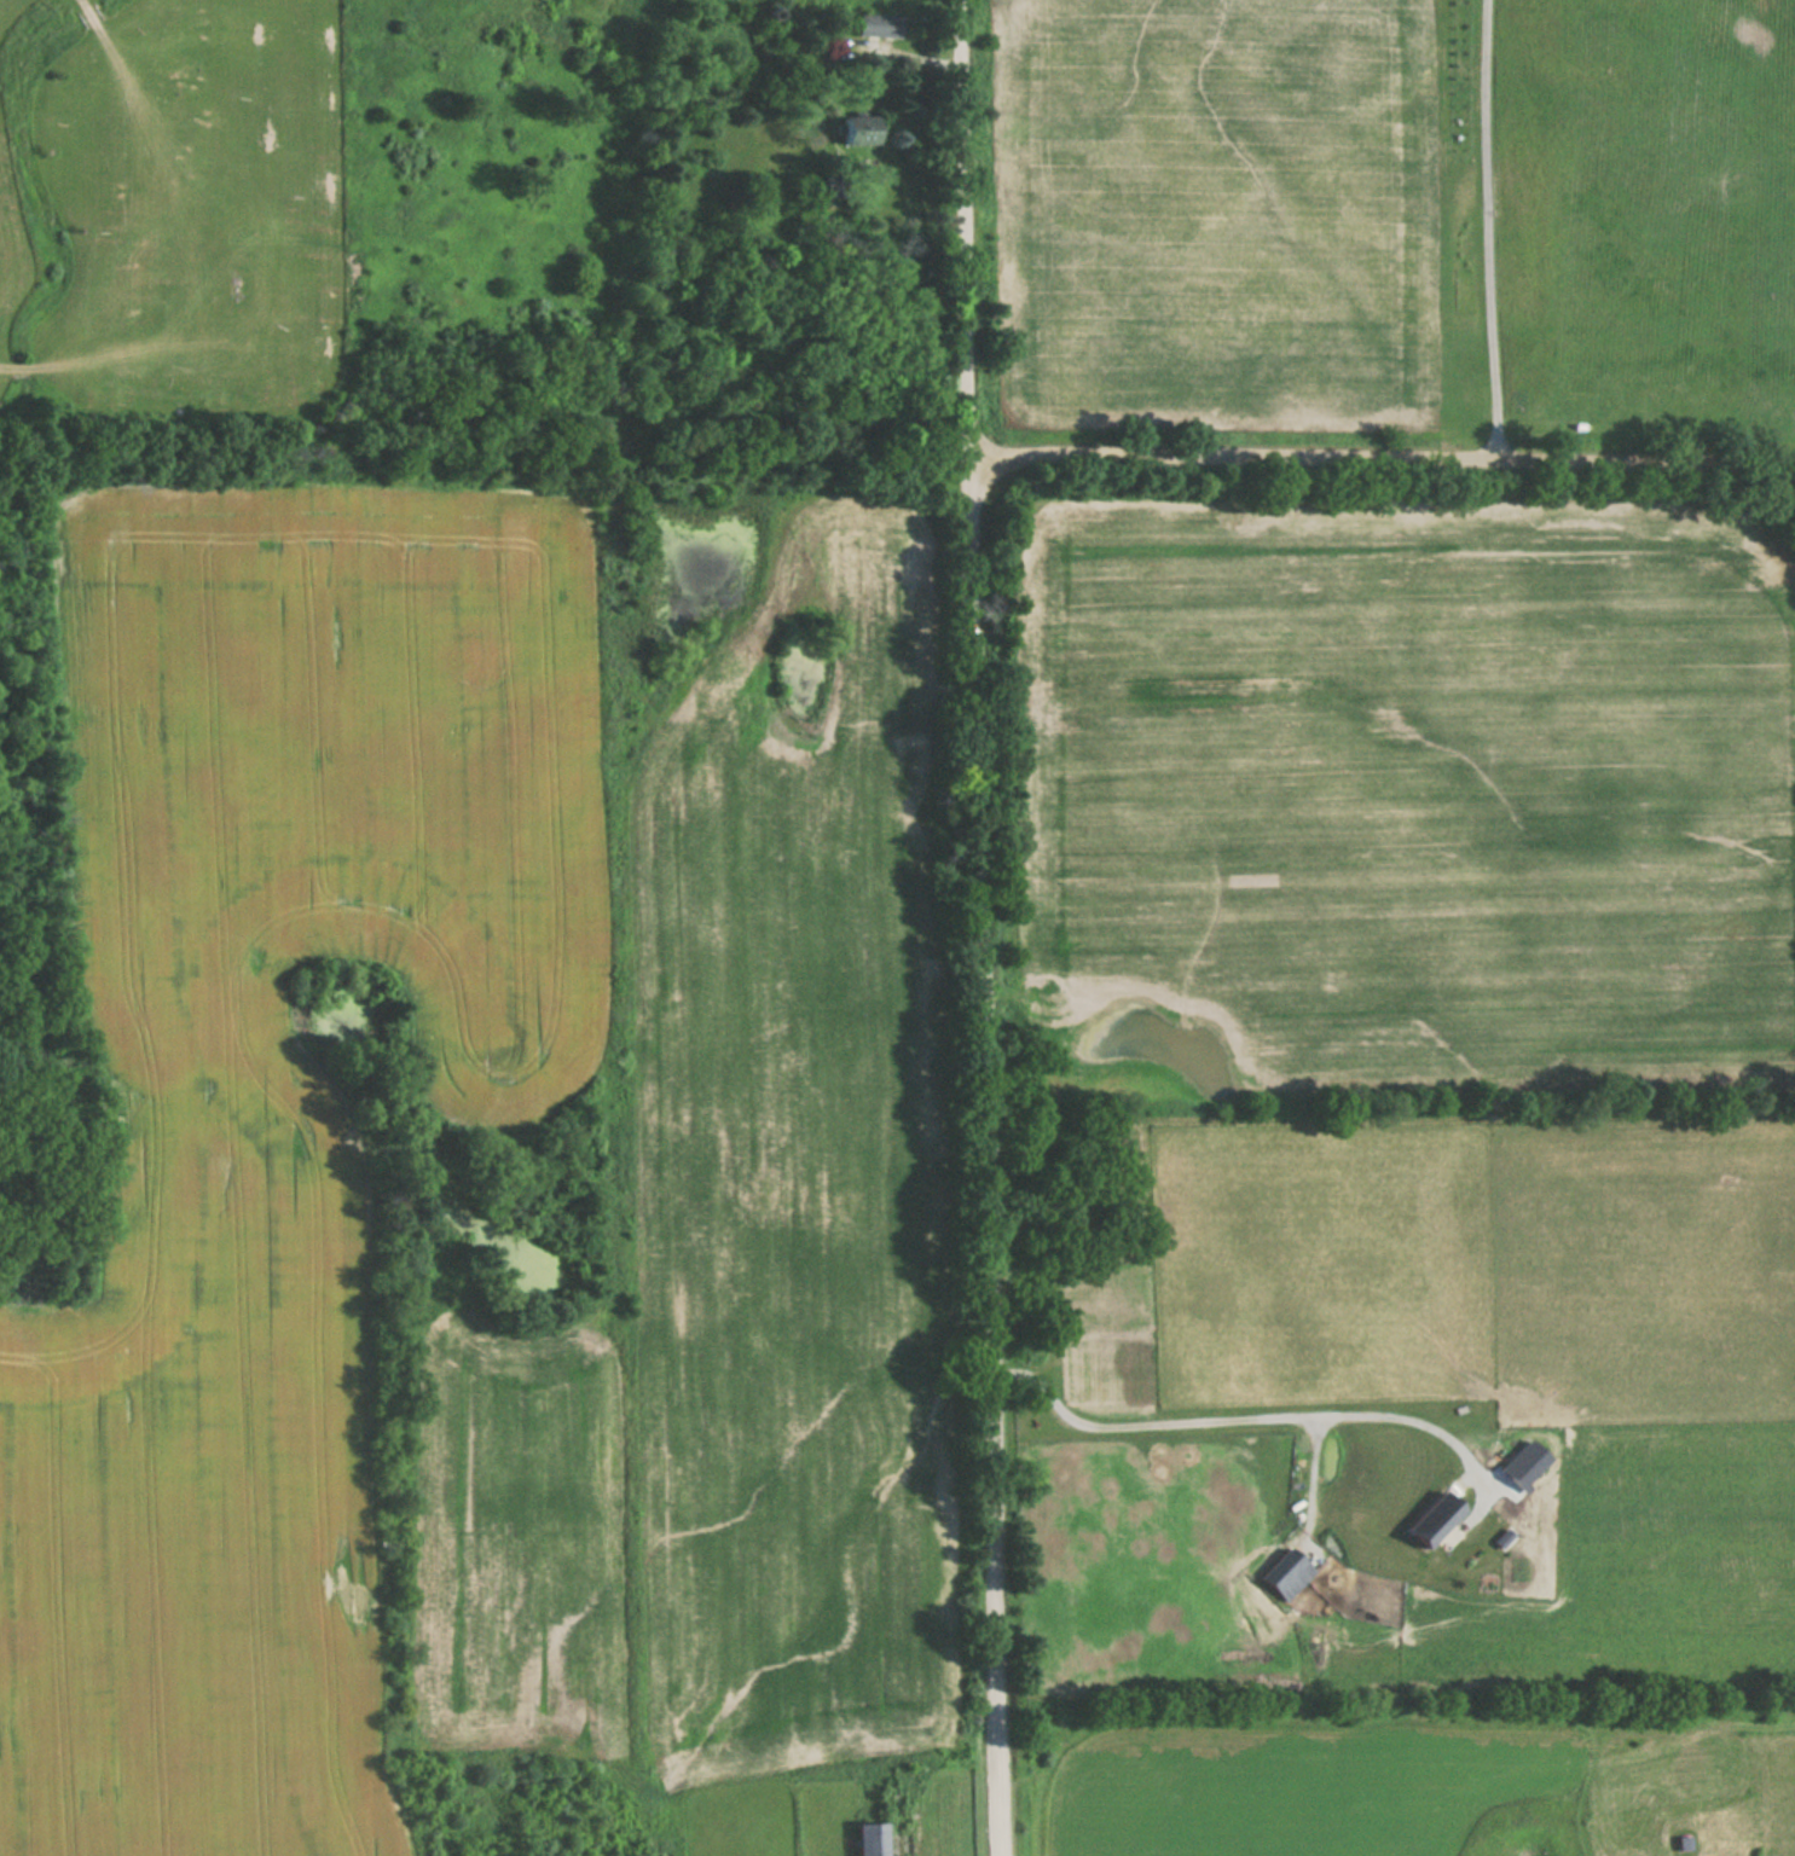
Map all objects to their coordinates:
building: (880, 25)
building: (858, 129)
building: (807, 220)
road: (1488, 227)
road: (1380, 452)
road: (980, 928)
road: (1250, 1410)
building: (1436, 1519)
building: (1287, 1574)
building: (882, 1839)

